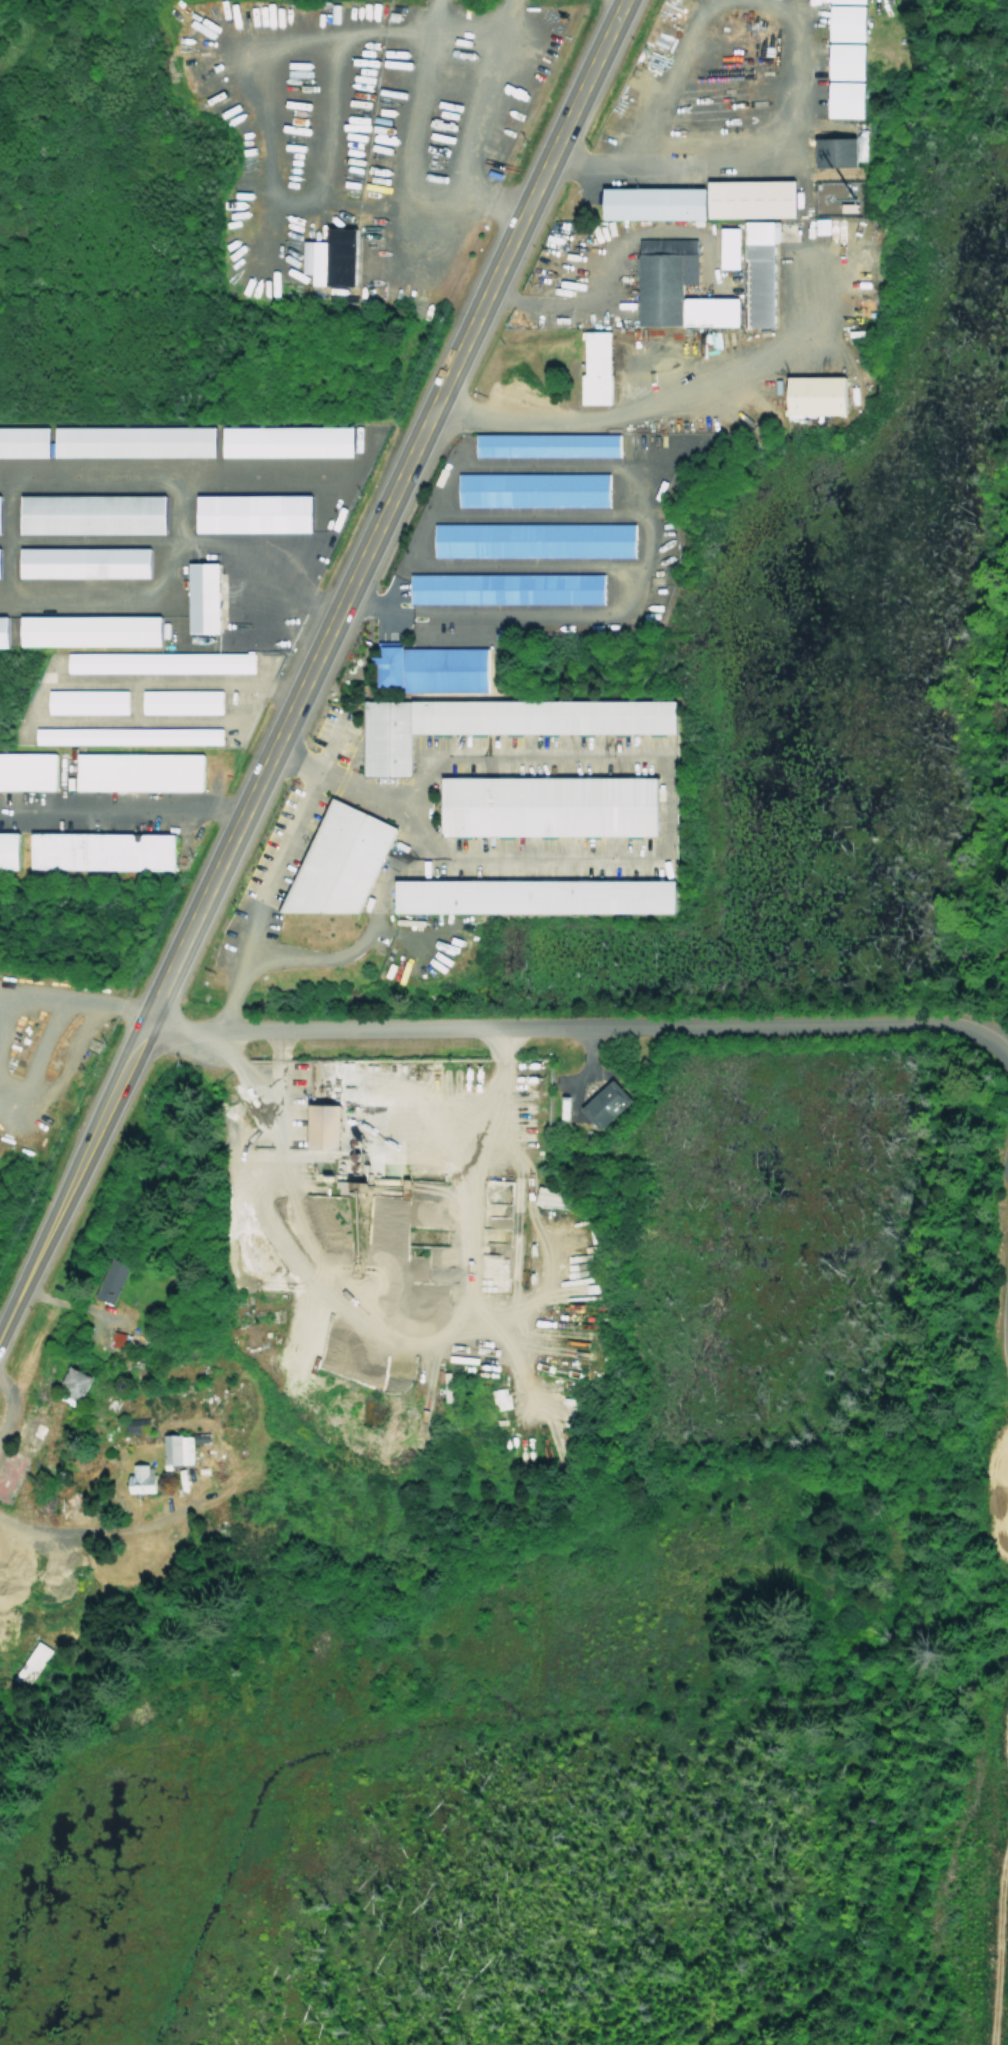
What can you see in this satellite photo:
building: (849, 1)
building: (848, 23)
building: (848, 61)
road: (796, 63)
building: (847, 99)
road: (262, 147)
building: (837, 152)
building: (830, 196)
road: (491, 199)
building: (753, 199)
road: (432, 203)
building: (657, 203)
building: (816, 226)
building: (730, 247)
building: (335, 253)
building: (759, 273)
building: (676, 286)
building: (596, 365)
building: (817, 393)
road: (646, 403)
building: (24, 440)
building: (133, 440)
building: (285, 441)
building: (546, 443)
road: (233, 476)
building: (532, 488)
road: (176, 508)
building: (92, 513)
building: (251, 515)
road: (6, 534)
building: (532, 538)
road: (175, 540)
park: (928, 558)
building: (84, 561)
building: (506, 587)
road: (107, 595)
building: (203, 596)
road: (331, 614)
building: (90, 629)
building: (3, 630)
building: (159, 661)
building: (432, 667)
road: (168, 683)
building: (86, 700)
building: (181, 700)
road: (140, 720)
building: (499, 721)
building: (125, 734)
road: (505, 759)
building: (27, 769)
building: (138, 771)
building: (549, 804)
road: (120, 807)
building: (8, 849)
building: (101, 850)
road: (512, 858)
building: (339, 860)
road: (274, 876)
road: (380, 890)
building: (535, 895)
road: (980, 986)
road: (18, 997)
road: (102, 1005)
road: (549, 1028)
road: (988, 1043)
road: (35, 1057)
road: (64, 1059)
building: (606, 1103)
building: (562, 1107)
building: (326, 1125)
building: (552, 1196)
road: (21, 1275)
road: (374, 1318)
road: (1007, 1339)
building: (72, 1383)
road: (6, 1405)
building: (179, 1446)
building: (140, 1476)
road: (112, 1526)
building: (29, 1662)
road: (1007, 1729)
road: (995, 1939)

